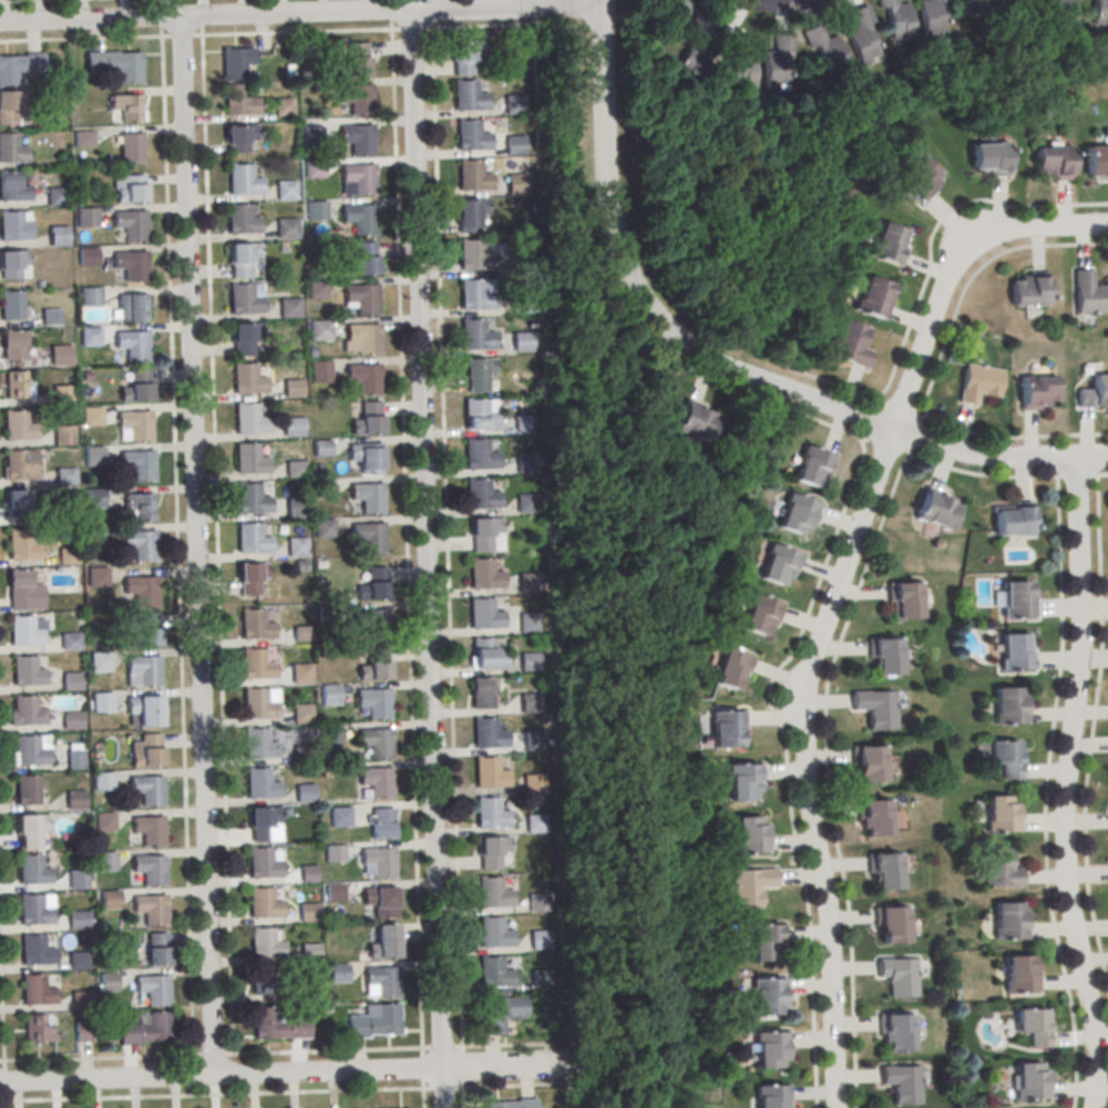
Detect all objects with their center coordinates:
building: (974, 7)
road: (300, 12)
building: (1100, 13)
building: (1063, 16)
building: (929, 18)
building: (896, 20)
road: (261, 34)
building: (860, 35)
building: (696, 51)
building: (829, 52)
building: (464, 55)
building: (358, 58)
building: (236, 61)
building: (778, 61)
building: (19, 65)
building: (125, 65)
building: (741, 66)
building: (466, 99)
building: (237, 100)
building: (355, 100)
building: (283, 105)
building: (512, 105)
building: (10, 106)
building: (126, 106)
road: (603, 115)
building: (238, 137)
building: (470, 137)
building: (83, 138)
building: (356, 140)
building: (130, 146)
building: (512, 146)
building: (11, 151)
building: (987, 160)
building: (1096, 160)
building: (1050, 164)
building: (314, 171)
building: (471, 178)
building: (242, 179)
building: (358, 179)
building: (916, 182)
building: (514, 185)
building: (129, 187)
building: (12, 189)
building: (284, 192)
building: (57, 198)
building: (315, 213)
building: (469, 213)
building: (240, 218)
building: (88, 219)
building: (359, 219)
building: (130, 223)
building: (12, 228)
building: (286, 230)
building: (58, 238)
building: (888, 243)
building: (472, 257)
building: (88, 258)
building: (242, 258)
building: (363, 258)
building: (14, 264)
building: (131, 264)
road: (952, 264)
building: (519, 266)
road: (927, 268)
road: (972, 275)
building: (1028, 289)
building: (316, 291)
building: (1089, 293)
building: (91, 297)
building: (872, 297)
building: (243, 298)
building: (473, 298)
building: (361, 299)
building: (12, 305)
building: (517, 306)
building: (130, 307)
building: (288, 309)
building: (50, 316)
building: (319, 331)
building: (89, 338)
building: (242, 338)
building: (474, 338)
building: (363, 339)
building: (12, 343)
building: (133, 343)
building: (521, 345)
building: (849, 346)
building: (61, 357)
building: (320, 370)
building: (475, 372)
building: (247, 378)
building: (363, 379)
building: (978, 382)
building: (17, 383)
building: (136, 386)
building: (293, 387)
building: (1037, 390)
building: (1094, 391)
building: (62, 397)
road: (879, 399)
road: (827, 403)
building: (480, 413)
road: (921, 414)
building: (91, 418)
building: (369, 418)
building: (249, 419)
building: (694, 421)
building: (135, 423)
building: (522, 425)
road: (893, 425)
road: (892, 427)
building: (18, 428)
building: (293, 428)
road: (1014, 435)
building: (63, 437)
road: (864, 438)
building: (322, 447)
road: (909, 453)
building: (93, 458)
building: (478, 458)
building: (249, 459)
building: (366, 459)
building: (21, 463)
building: (138, 463)
building: (525, 464)
building: (295, 468)
building: (810, 469)
road: (1102, 473)
road: (1078, 474)
road: (1096, 474)
building: (65, 479)
building: (480, 496)
building: (94, 499)
building: (252, 499)
building: (367, 499)
building: (19, 501)
building: (524, 505)
building: (138, 506)
building: (297, 509)
building: (936, 509)
building: (794, 515)
building: (1013, 519)
building: (324, 530)
building: (485, 534)
building: (98, 535)
building: (252, 538)
building: (369, 538)
road: (445, 538)
road: (406, 540)
building: (141, 543)
road: (216, 545)
road: (176, 546)
road: (196, 546)
building: (22, 547)
building: (296, 548)
road: (425, 557)
building: (68, 558)
building: (777, 567)
building: (483, 576)
building: (252, 577)
building: (98, 578)
building: (373, 584)
building: (527, 584)
building: (141, 588)
building: (23, 593)
building: (905, 602)
building: (1017, 603)
building: (483, 617)
building: (758, 617)
building: (255, 624)
building: (527, 624)
building: (371, 625)
building: (147, 628)
building: (301, 633)
building: (23, 634)
building: (71, 643)
road: (601, 646)
building: (1015, 656)
building: (486, 657)
building: (885, 659)
road: (784, 660)
building: (100, 664)
building: (256, 664)
building: (529, 664)
building: (373, 669)
building: (142, 670)
building: (730, 671)
building: (27, 674)
building: (300, 675)
building: (71, 683)
building: (482, 691)
building: (329, 696)
road: (825, 698)
building: (102, 704)
building: (257, 704)
building: (373, 705)
building: (530, 705)
building: (876, 706)
building: (144, 708)
building: (1008, 709)
building: (28, 714)
building: (300, 715)
building: (72, 722)
road: (1092, 728)
building: (725, 731)
building: (332, 733)
building: (488, 736)
building: (259, 742)
building: (533, 743)
building: (376, 745)
building: (146, 750)
building: (30, 753)
building: (301, 755)
building: (1005, 757)
road: (803, 759)
building: (71, 760)
building: (869, 766)
building: (489, 776)
building: (260, 782)
building: (102, 783)
building: (376, 783)
road: (1065, 783)
building: (741, 784)
building: (532, 786)
building: (147, 788)
building: (28, 789)
road: (1046, 792)
building: (304, 794)
building: (76, 798)
building: (1001, 813)
building: (491, 815)
building: (340, 818)
building: (874, 819)
building: (104, 823)
building: (264, 823)
building: (382, 825)
building: (535, 825)
building: (31, 829)
building: (148, 829)
building: (748, 837)
building: (334, 854)
building: (489, 855)
building: (105, 863)
building: (263, 863)
building: (379, 863)
building: (150, 868)
building: (999, 868)
building: (33, 872)
building: (308, 872)
building: (884, 873)
building: (78, 881)
building: (749, 889)
building: (336, 895)
building: (492, 895)
building: (110, 901)
building: (264, 902)
building: (379, 903)
building: (538, 904)
building: (151, 907)
building: (34, 912)
building: (307, 914)
building: (1009, 920)
building: (78, 922)
building: (892, 926)
building: (493, 935)
building: (384, 941)
building: (266, 942)
building: (538, 942)
building: (765, 945)
building: (157, 947)
building: (35, 953)
building: (308, 955)
building: (79, 964)
building: (1022, 973)
building: (337, 975)
building: (494, 975)
building: (899, 978)
building: (263, 981)
building: (540, 982)
building: (107, 983)
building: (382, 983)
building: (153, 987)
building: (37, 993)
building: (308, 993)
building: (767, 999)
building: (80, 1002)
road: (1, 1009)
building: (502, 1012)
building: (376, 1020)
building: (268, 1023)
building: (1033, 1025)
building: (147, 1028)
building: (895, 1030)
building: (38, 1033)
building: (83, 1034)
road: (275, 1053)
building: (769, 1053)
road: (298, 1073)
road: (422, 1078)
building: (1029, 1080)
building: (902, 1086)
road: (283, 1094)
building: (769, 1098)
building: (510, 1102)

